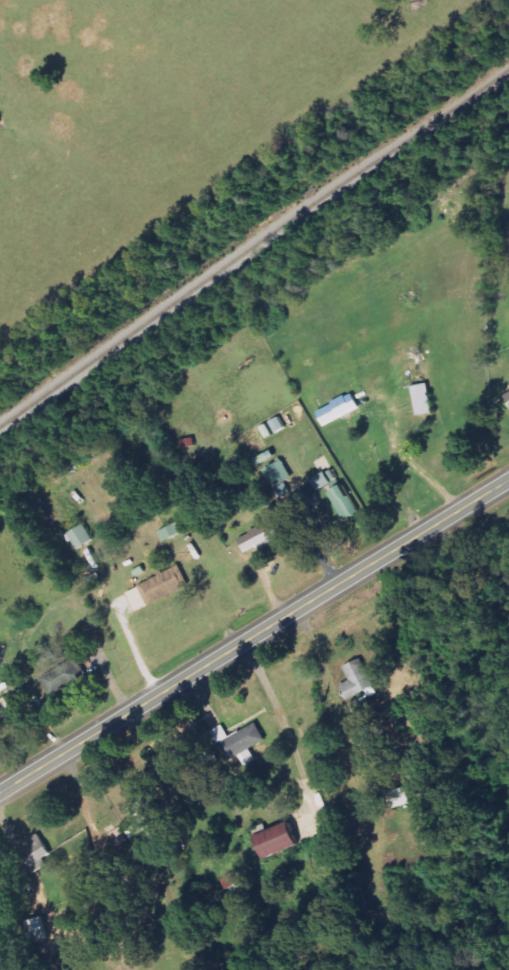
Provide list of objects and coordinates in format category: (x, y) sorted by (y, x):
railway: (254, 244)
building: (507, 396)
building: (423, 399)
building: (338, 410)
building: (324, 481)
building: (343, 502)
building: (81, 536)
building: (260, 537)
building: (158, 589)
road: (254, 637)
building: (63, 676)
building: (357, 687)
building: (12, 705)
building: (238, 741)
building: (399, 798)
building: (145, 820)
building: (277, 840)
building: (36, 854)
road: (99, 878)
building: (233, 880)
building: (38, 930)

